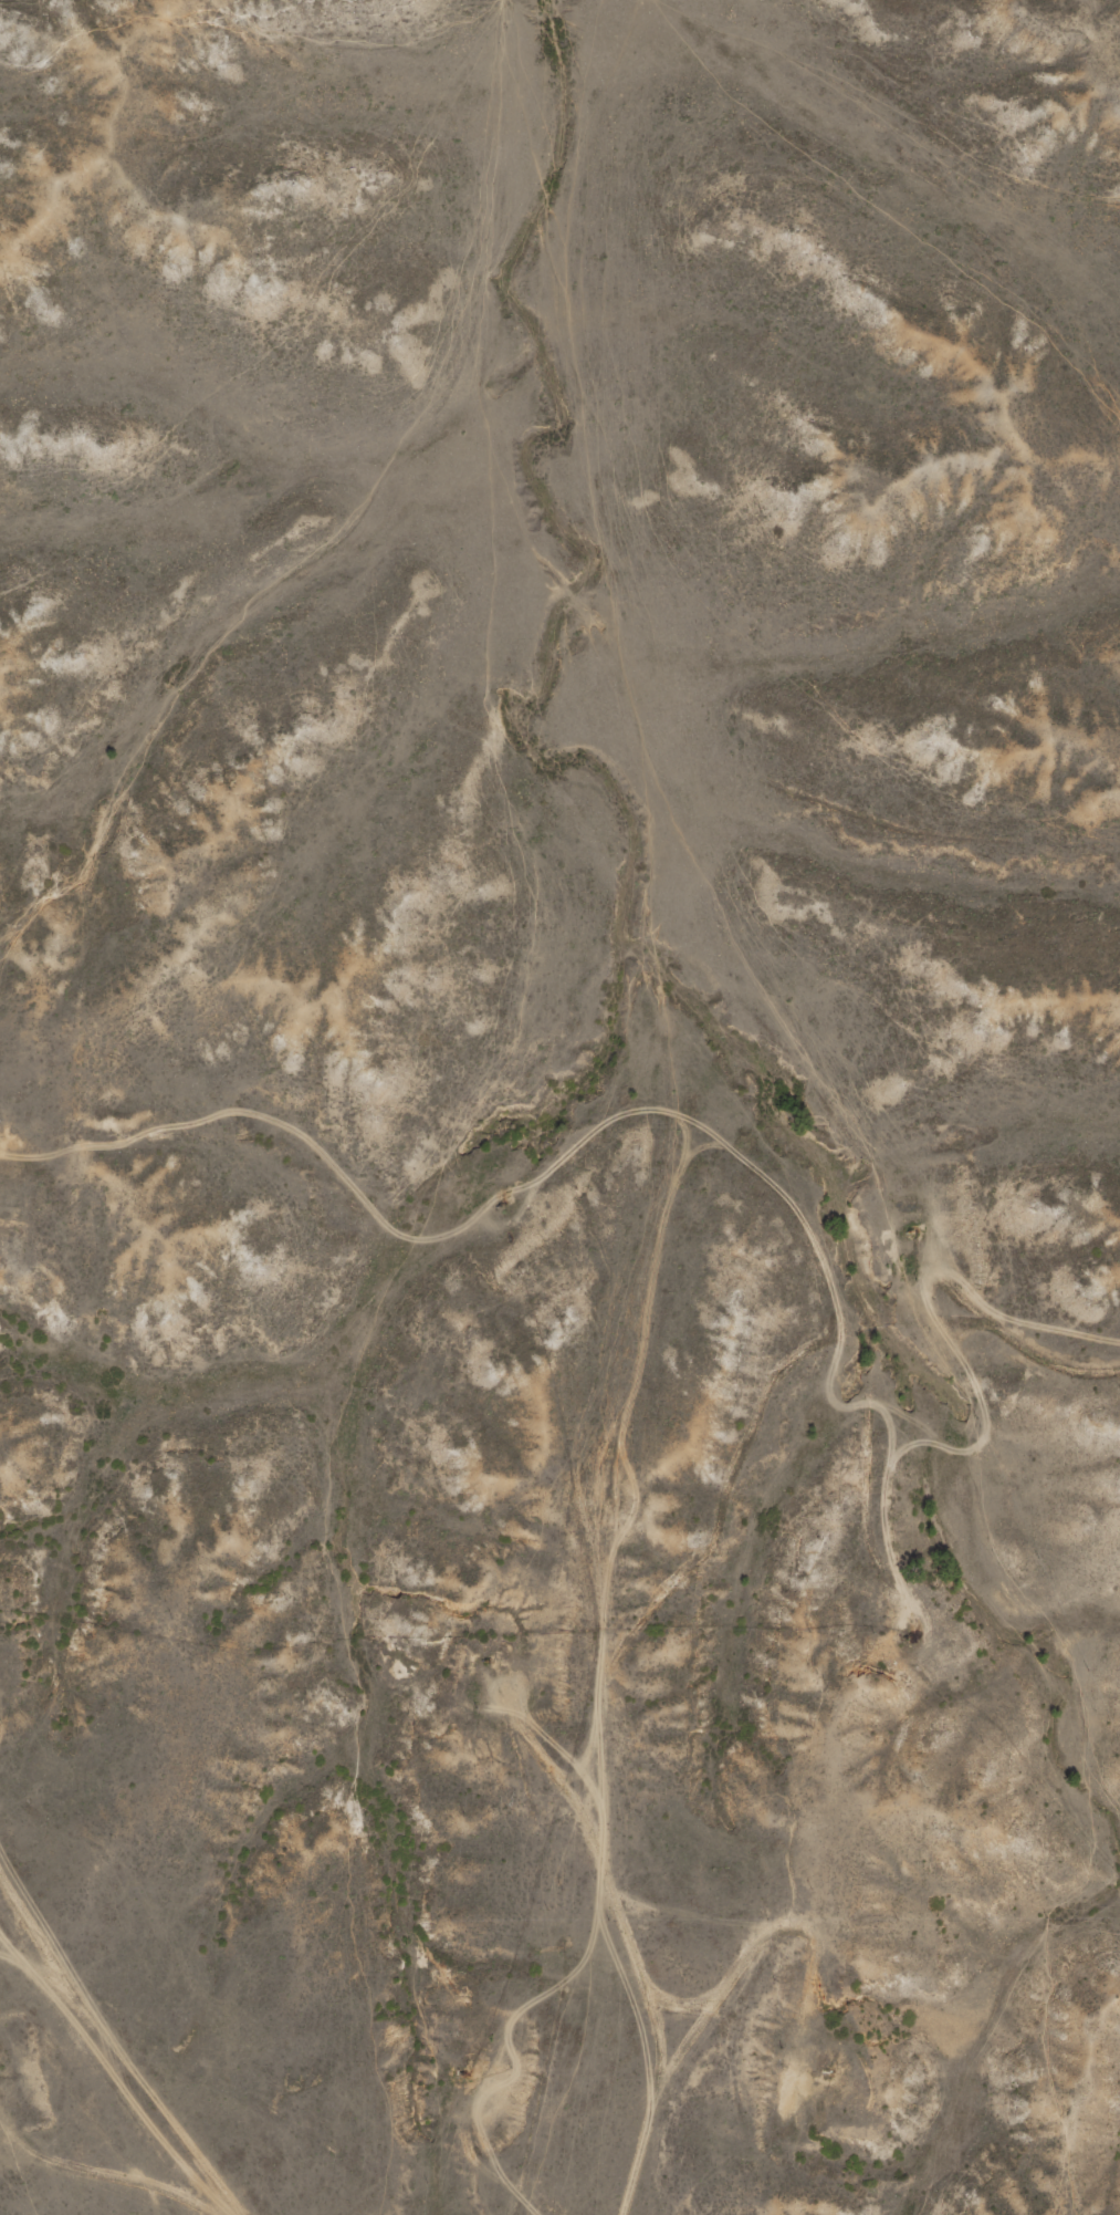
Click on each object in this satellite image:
road: (127, 2052)

